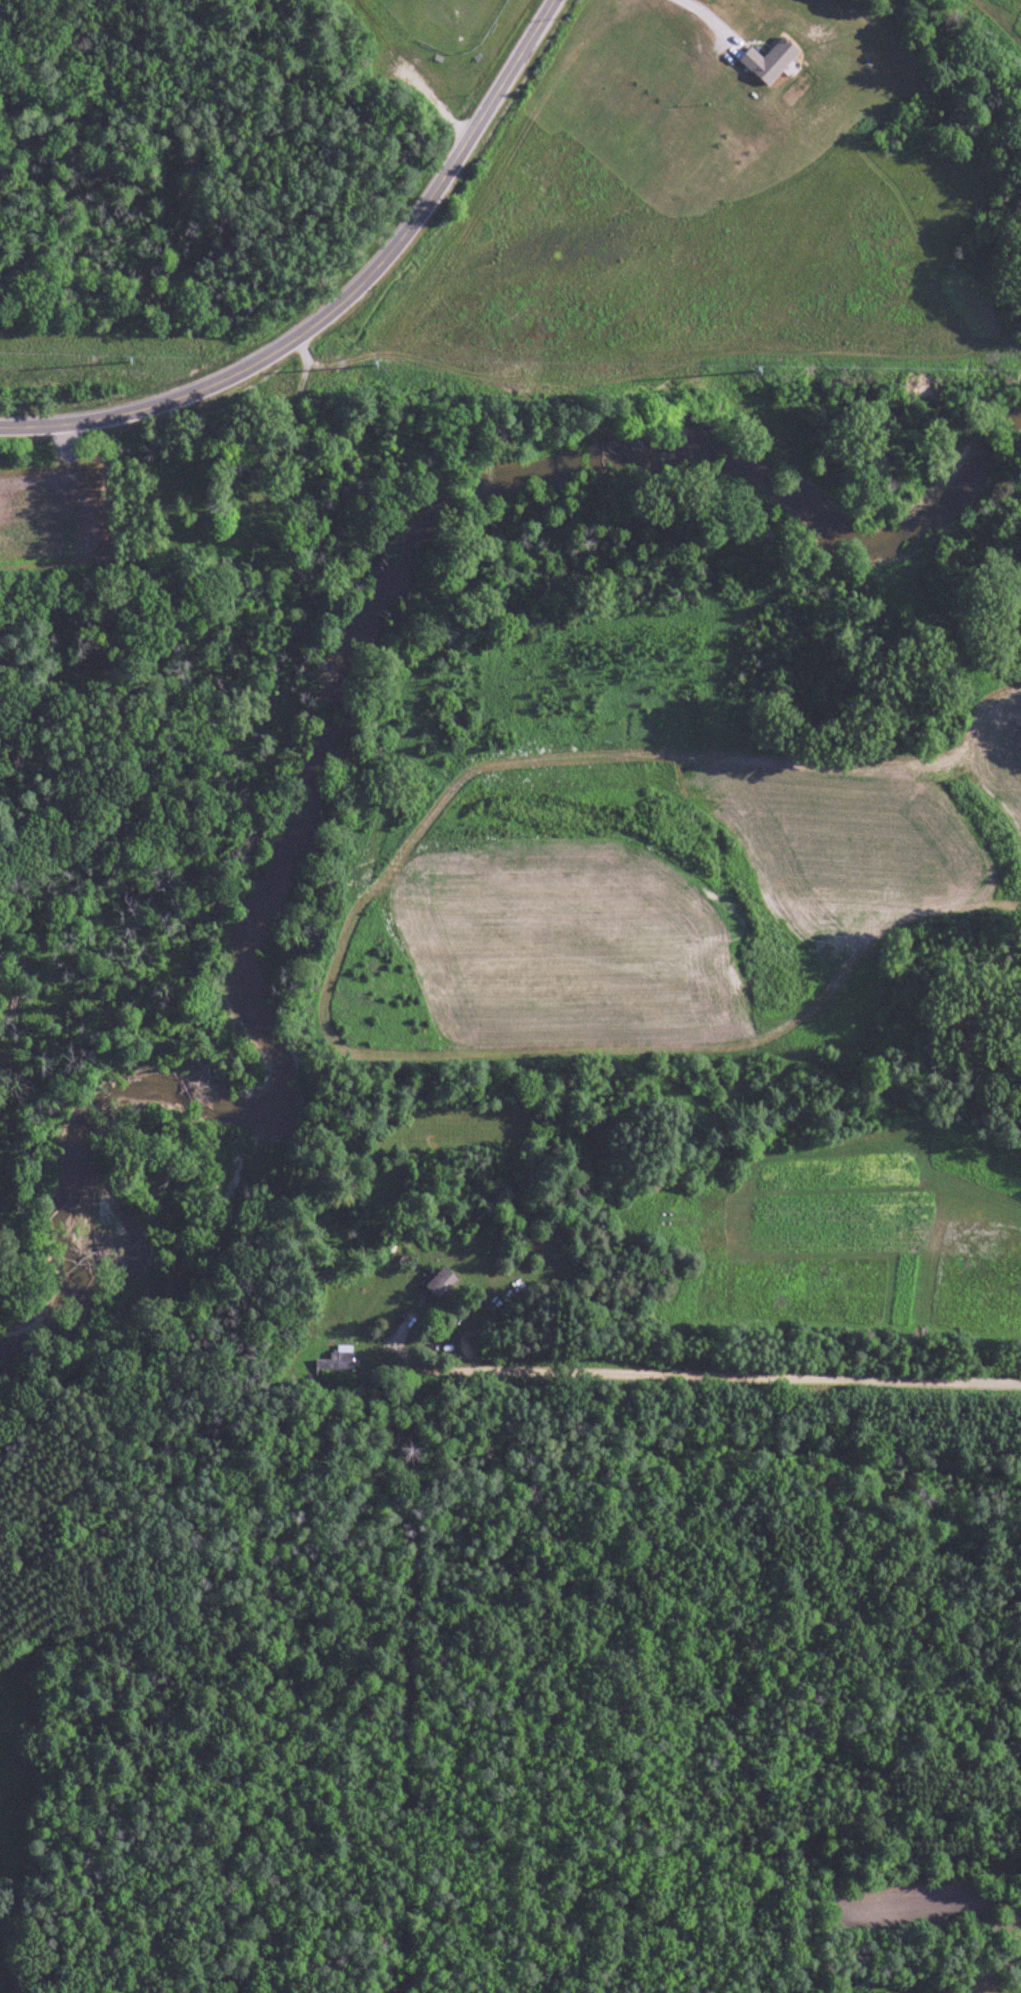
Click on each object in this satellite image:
road: (340, 302)
power tower: (163, 345)
power tower: (365, 357)
power tower: (751, 361)
river: (336, 714)
building: (443, 1284)
building: (338, 1362)
road: (683, 1377)

